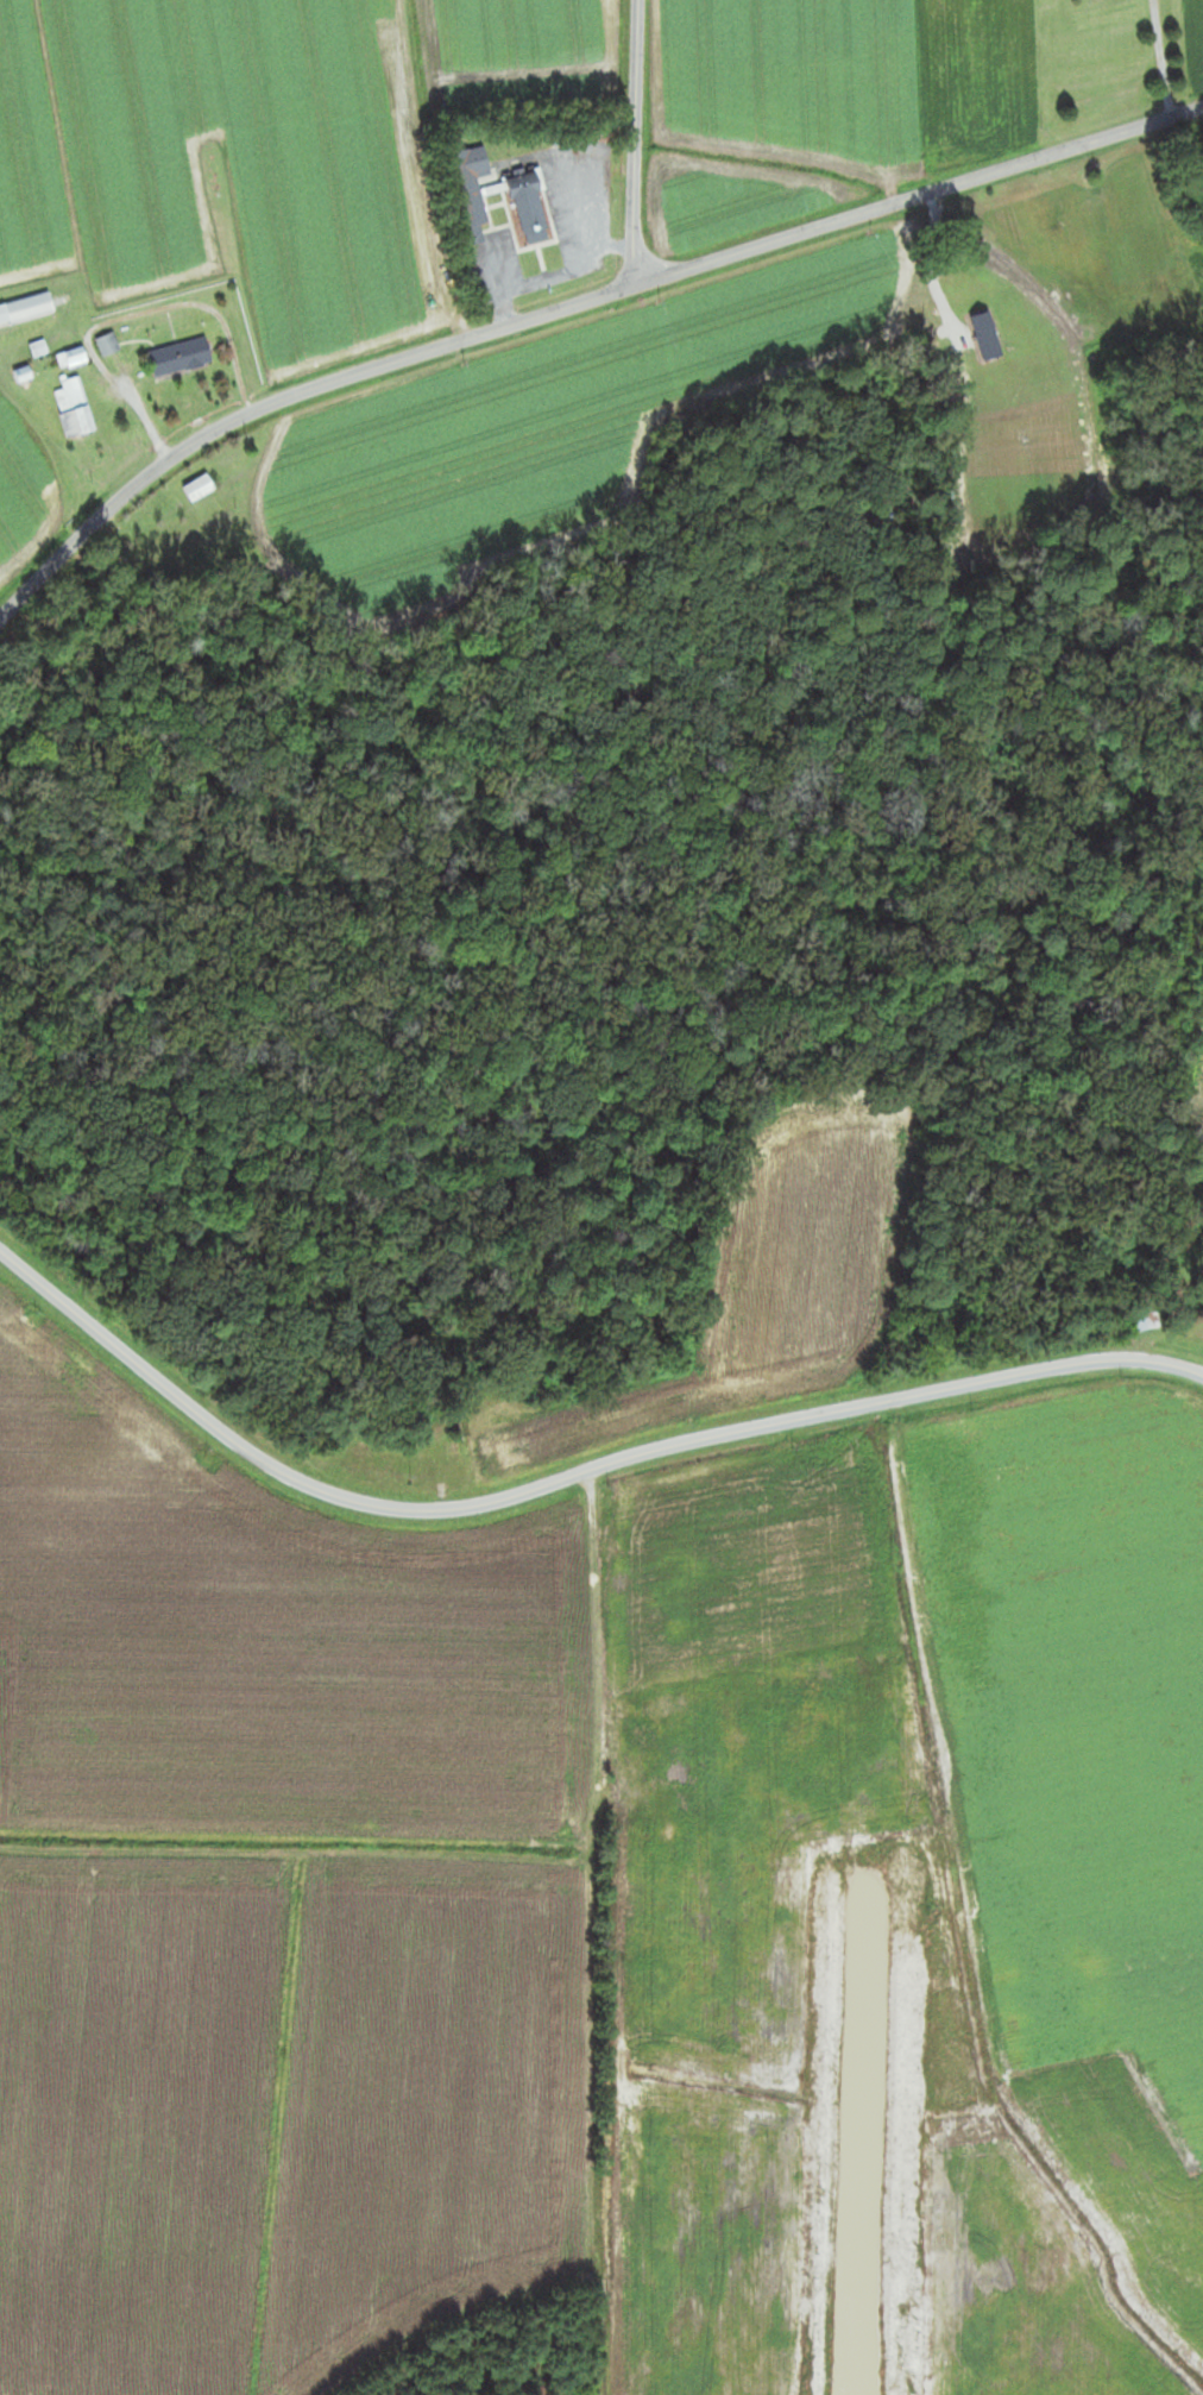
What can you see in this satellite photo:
road: (1160, 57)
road: (635, 142)
building: (471, 189)
building: (531, 208)
building: (1026, 231)
road: (555, 272)
road: (569, 304)
building: (26, 307)
building: (108, 344)
building: (181, 356)
building: (73, 357)
building: (75, 406)
building: (201, 485)
building: (1146, 1320)
building: (515, 1454)
road: (565, 1479)
building: (840, 1579)

